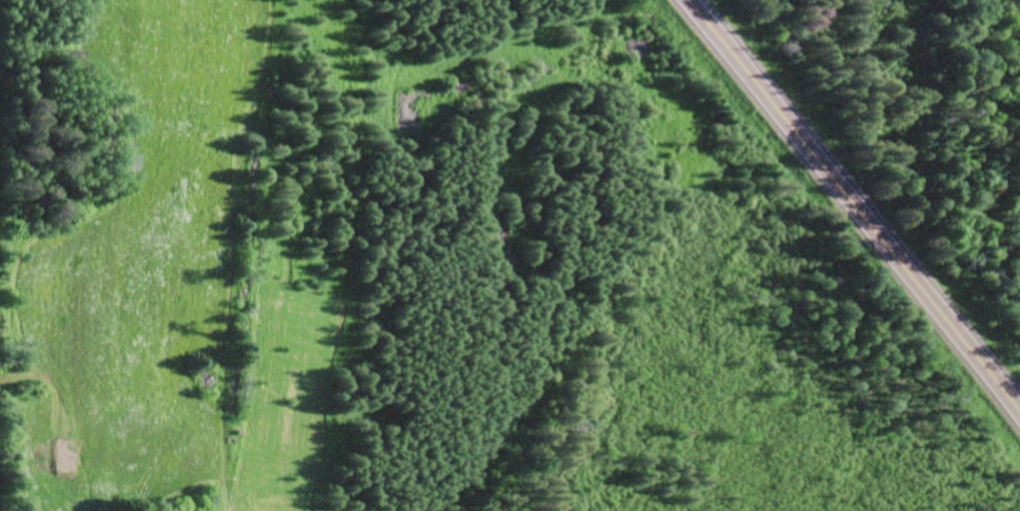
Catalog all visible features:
road: (852, 205)

